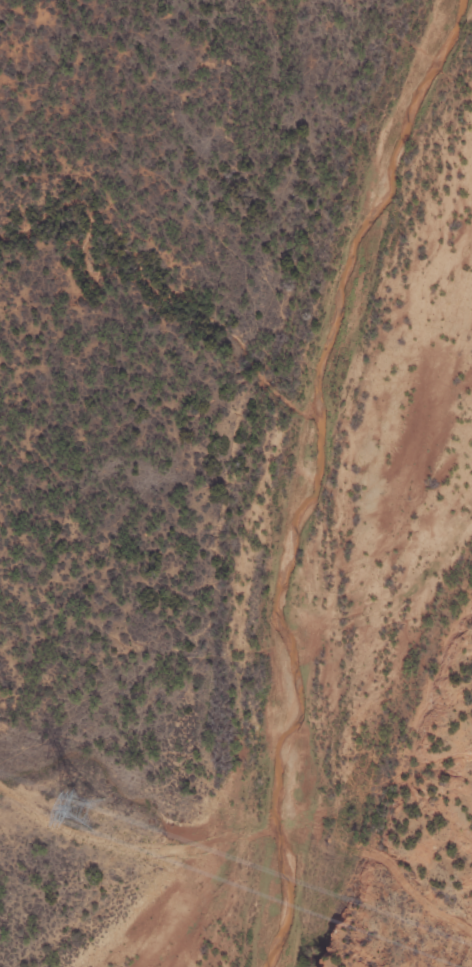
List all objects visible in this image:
river: (297, 473)
power tower: (85, 808)

